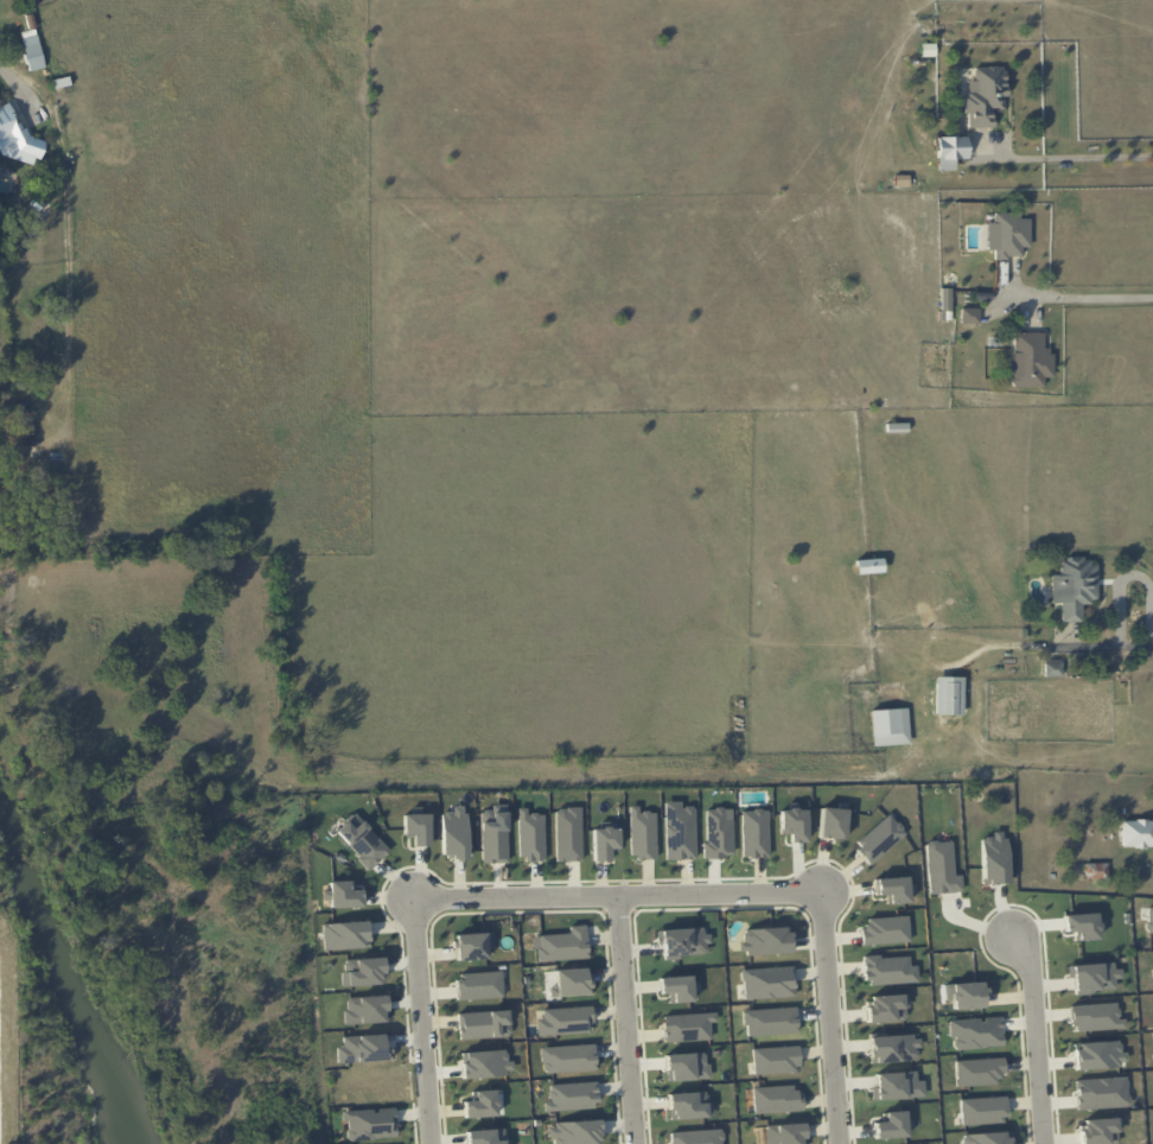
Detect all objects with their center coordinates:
building: (32, 50)
building: (983, 95)
building: (17, 139)
building: (950, 151)
road: (1077, 158)
building: (1007, 235)
road: (1085, 294)
building: (969, 316)
building: (1030, 360)
building: (868, 565)
road: (1127, 576)
building: (1074, 586)
road: (1094, 646)
building: (1052, 668)
building: (948, 695)
building: (888, 726)
building: (832, 822)
building: (794, 824)
building: (416, 828)
building: (680, 831)
building: (454, 832)
building: (493, 833)
building: (642, 833)
building: (718, 833)
building: (754, 833)
building: (1136, 833)
building: (568, 834)
building: (530, 835)
building: (879, 839)
building: (361, 840)
building: (605, 843)
building: (993, 858)
building: (941, 867)
building: (893, 889)
building: (344, 894)
road: (628, 894)
building: (1148, 920)
building: (1083, 926)
building: (885, 929)
building: (345, 935)
building: (765, 940)
building: (683, 941)
building: (473, 945)
building: (561, 945)
building: (888, 970)
building: (362, 971)
building: (1094, 975)
building: (569, 981)
building: (767, 983)
building: (479, 985)
building: (677, 987)
building: (964, 994)
building: (886, 1008)
building: (365, 1009)
building: (1095, 1017)
road: (624, 1019)
building: (565, 1021)
building: (770, 1021)
building: (484, 1024)
building: (687, 1027)
building: (975, 1032)
road: (1036, 1032)
building: (893, 1048)
building: (363, 1049)
building: (1098, 1055)
building: (567, 1057)
building: (775, 1060)
building: (485, 1063)
building: (686, 1066)
building: (979, 1072)
building: (897, 1086)
building: (1101, 1092)
building: (571, 1097)
building: (776, 1099)
building: (480, 1104)
building: (689, 1105)
building: (982, 1110)
building: (370, 1124)
building: (892, 1125)
building: (1100, 1130)
building: (575, 1132)
building: (785, 1133)
building: (486, 1137)
building: (696, 1137)
building: (986, 1138)

